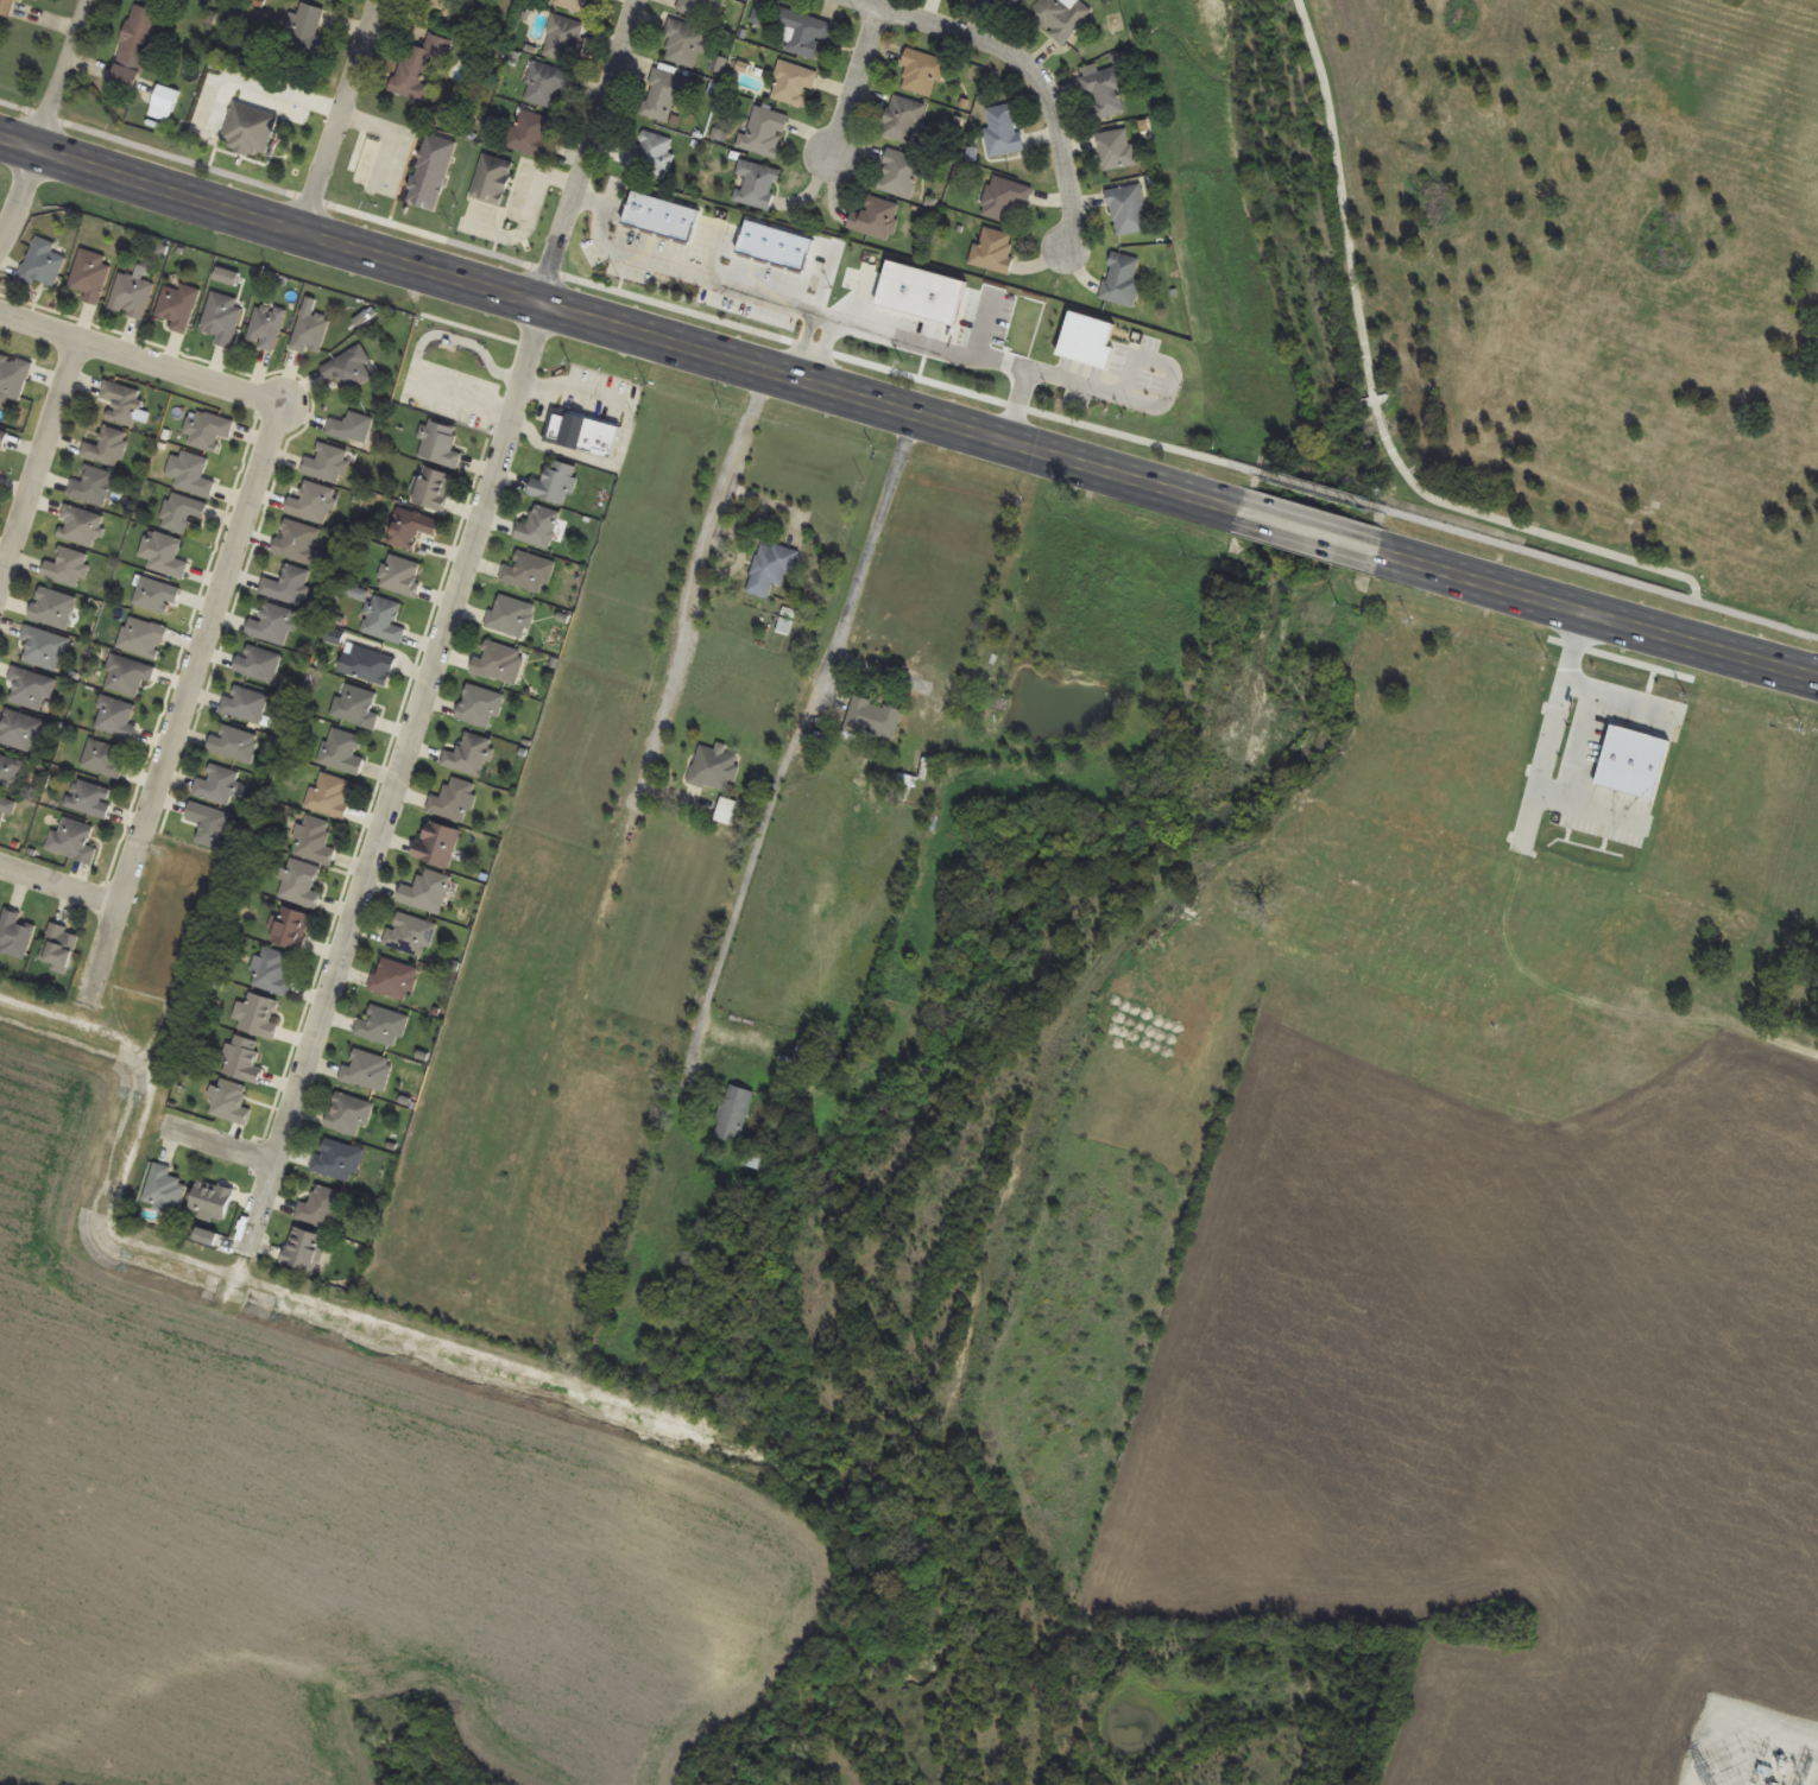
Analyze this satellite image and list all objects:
building: (36, 0)
building: (596, 0)
building: (1006, 2)
building: (435, 4)
building: (572, 5)
building: (6, 8)
building: (701, 8)
building: (1060, 18)
building: (305, 32)
building: (143, 33)
building: (804, 33)
building: (562, 39)
building: (688, 43)
road: (1023, 65)
building: (419, 68)
building: (921, 74)
road: (259, 84)
building: (545, 86)
building: (794, 86)
road: (852, 86)
building: (1105, 91)
building: (664, 96)
building: (164, 99)
road: (339, 113)
building: (903, 120)
road: (42, 122)
building: (250, 131)
building: (764, 132)
building: (1003, 132)
building: (531, 134)
road: (589, 150)
building: (1117, 150)
building: (650, 153)
building: (899, 175)
building: (492, 181)
building: (756, 185)
building: (427, 189)
road: (1343, 196)
building: (1004, 198)
building: (1129, 210)
building: (661, 219)
building: (876, 219)
building: (774, 247)
building: (993, 249)
building: (43, 264)
building: (90, 276)
building: (1122, 280)
road: (627, 295)
building: (131, 296)
building: (178, 306)
building: (222, 318)
road: (616, 322)
road: (852, 322)
building: (266, 327)
building: (311, 333)
road: (801, 343)
road: (821, 349)
road: (140, 357)
building: (349, 369)
building: (13, 378)
building: (122, 404)
road: (1015, 404)
road: (1378, 416)
building: (352, 429)
building: (209, 431)
building: (583, 433)
building: (4, 439)
building: (441, 445)
building: (107, 448)
road: (39, 461)
building: (328, 464)
building: (191, 475)
building: (555, 483)
building: (94, 487)
building: (431, 489)
road: (1324, 492)
building: (313, 504)
building: (182, 513)
building: (80, 526)
building: (412, 528)
building: (539, 528)
road: (1311, 531)
road: (1535, 531)
building: (299, 542)
building: (165, 557)
building: (68, 568)
building: (771, 569)
building: (529, 572)
road: (1602, 574)
building: (400, 576)
road: (699, 580)
building: (289, 585)
building: (157, 596)
building: (53, 609)
road: (1602, 614)
building: (511, 618)
building: (384, 620)
building: (273, 625)
building: (144, 638)
building: (45, 650)
building: (499, 663)
building: (258, 664)
building: (367, 665)
building: (128, 676)
road: (189, 686)
building: (31, 690)
road: (1616, 695)
building: (245, 704)
building: (358, 708)
building: (480, 708)
building: (116, 719)
building: (873, 720)
building: (21, 732)
road: (793, 738)
road: (1580, 743)
building: (235, 745)
road: (1547, 746)
building: (343, 752)
building: (469, 755)
building: (105, 759)
building: (714, 770)
building: (12, 772)
road: (398, 773)
building: (219, 785)
building: (904, 789)
building: (330, 796)
building: (90, 799)
building: (455, 800)
building: (6, 809)
building: (726, 811)
building: (210, 825)
building: (74, 841)
building: (315, 841)
building: (437, 844)
road: (59, 885)
building: (301, 885)
building: (425, 892)
building: (1661, 911)
building: (290, 929)
building: (411, 935)
building: (15, 936)
building: (59, 948)
building: (272, 973)
building: (394, 980)
building: (1803, 994)
building: (258, 1018)
building: (383, 1027)
building: (809, 1053)
building: (242, 1059)
building: (368, 1071)
building: (229, 1103)
building: (734, 1114)
building: (349, 1115)
road: (221, 1144)
building: (753, 1159)
building: (337, 1160)
building: (164, 1191)
building: (212, 1202)
building: (320, 1208)
building: (304, 1251)
power substation: (1753, 1748)

